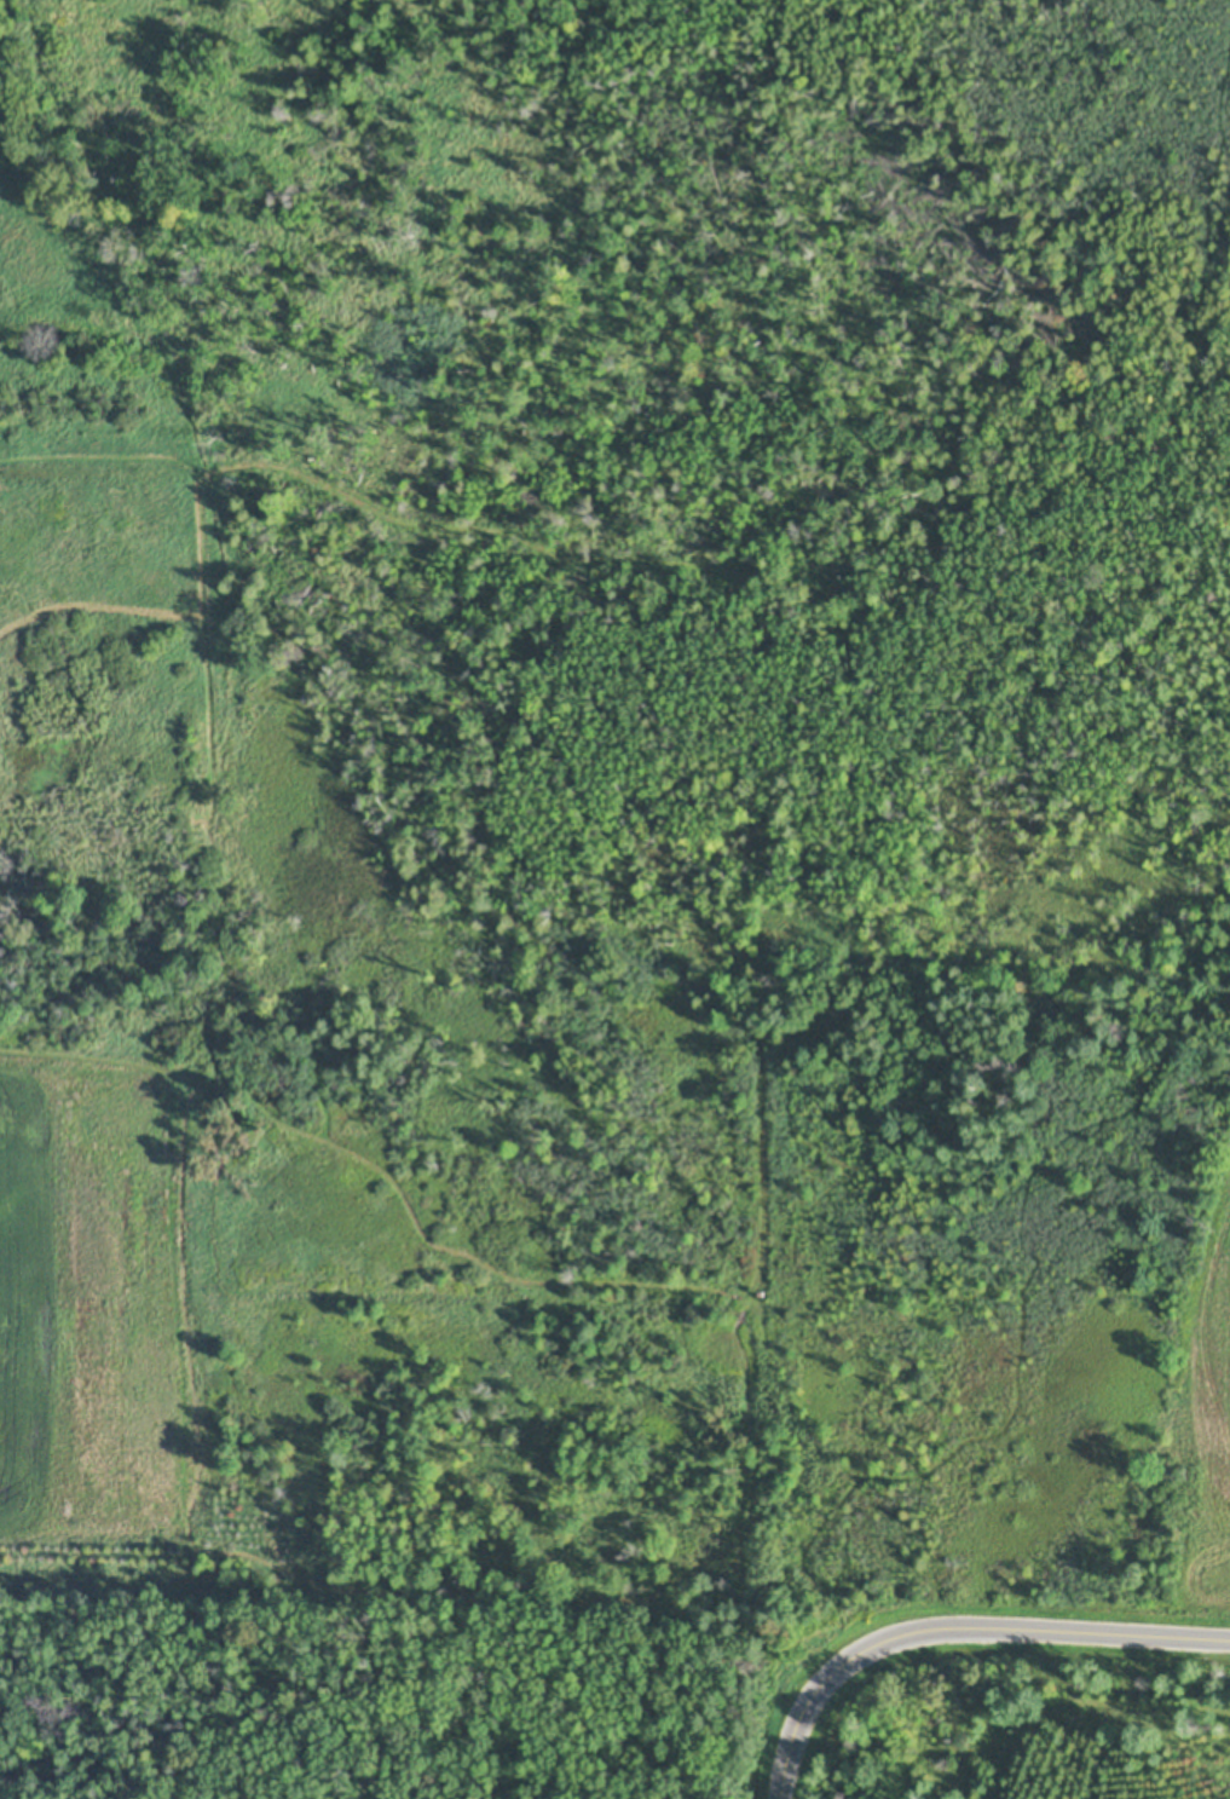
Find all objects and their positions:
road: (958, 1628)

